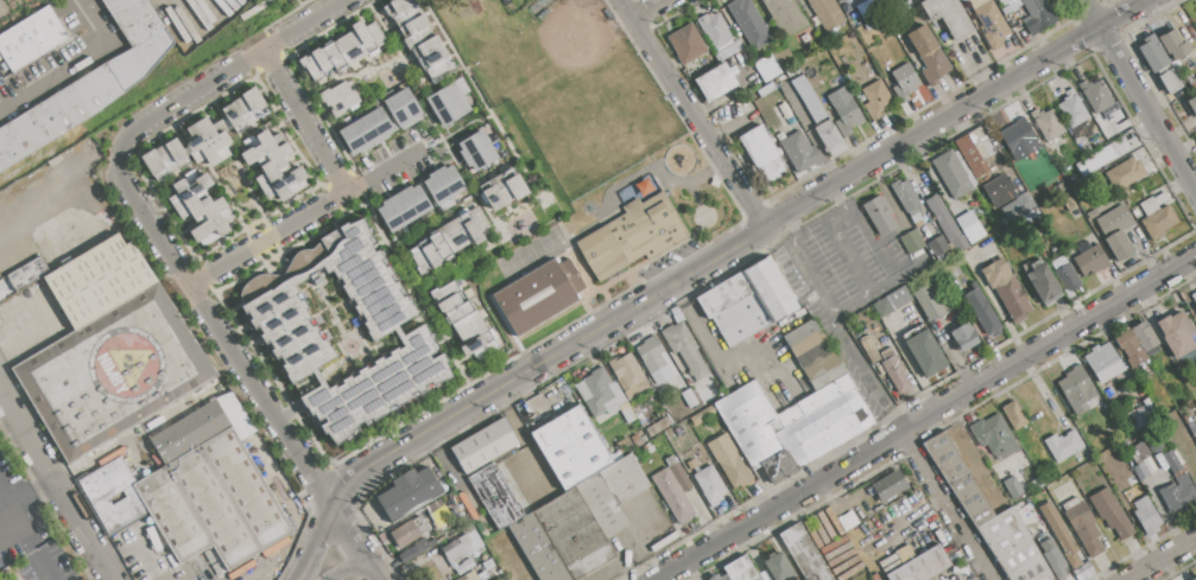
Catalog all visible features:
building: (840, 0)
building: (1013, 0)
building: (398, 7)
road: (644, 7)
building: (827, 13)
building: (785, 15)
building: (406, 17)
building: (948, 17)
building: (1037, 17)
building: (749, 23)
building: (991, 25)
building: (412, 27)
building: (715, 30)
building: (375, 34)
building: (30, 38)
building: (365, 38)
building: (417, 38)
road: (1108, 38)
building: (685, 43)
building: (1172, 44)
building: (349, 47)
building: (430, 52)
building: (1152, 53)
building: (928, 56)
building: (334, 57)
building: (781, 57)
building: (322, 60)
building: (310, 66)
road: (74, 68)
road: (403, 69)
building: (439, 70)
road: (222, 71)
building: (715, 82)
building: (904, 82)
building: (1170, 82)
building: (90, 84)
park: (576, 85)
building: (805, 94)
building: (1095, 95)
building: (338, 98)
building: (875, 100)
building: (254, 102)
building: (1192, 103)
building: (449, 104)
building: (404, 108)
building: (1072, 109)
building: (243, 110)
building: (844, 111)
road: (692, 114)
building: (232, 119)
road: (302, 121)
building: (1046, 123)
road: (730, 125)
road: (1160, 129)
building: (366, 132)
road: (455, 132)
building: (1017, 135)
building: (828, 138)
building: (1195, 138)
building: (208, 142)
building: (798, 149)
building: (476, 151)
building: (975, 151)
building: (177, 153)
building: (762, 154)
railway: (43, 155)
building: (1103, 157)
building: (165, 159)
park: (580, 159)
building: (152, 165)
building: (272, 165)
road: (382, 172)
building: (954, 173)
building: (1126, 173)
building: (443, 184)
building: (514, 184)
road: (1194, 185)
building: (501, 189)
building: (999, 190)
building: (491, 196)
building: (905, 196)
building: (1069, 204)
building: (1017, 206)
building: (200, 208)
building: (403, 208)
road: (514, 212)
building: (879, 213)
building: (1091, 215)
building: (1158, 216)
building: (477, 217)
building: (968, 221)
building: (469, 225)
building: (947, 225)
building: (1115, 231)
building: (454, 235)
building: (631, 235)
road: (264, 240)
road: (746, 240)
building: (911, 242)
building: (938, 246)
building: (439, 247)
building: (429, 253)
road: (843, 254)
road: (884, 259)
building: (419, 260)
building: (1090, 260)
road: (805, 267)
building: (29, 273)
building: (1068, 278)
building: (100, 280)
building: (1043, 282)
building: (1005, 289)
building: (443, 292)
building: (1194, 295)
building: (540, 297)
building: (748, 301)
building: (929, 301)
building: (450, 302)
road: (993, 304)
building: (882, 307)
building: (460, 312)
building: (981, 312)
road: (207, 319)
building: (469, 327)
building: (290, 332)
building: (1176, 333)
building: (963, 337)
building: (1145, 338)
road: (448, 343)
building: (477, 343)
building: (808, 344)
building: (1129, 346)
building: (485, 351)
building: (684, 351)
building: (924, 352)
building: (656, 361)
road: (721, 362)
road: (338, 363)
building: (1103, 363)
building: (112, 370)
building: (894, 370)
building: (823, 371)
road: (867, 374)
building: (628, 376)
building: (1076, 389)
building: (600, 394)
building: (690, 400)
building: (1139, 415)
building: (1014, 416)
road: (925, 419)
building: (793, 425)
building: (202, 427)
building: (656, 427)
building: (994, 438)
building: (483, 445)
road: (525, 445)
building: (1063, 445)
building: (572, 448)
building: (729, 461)
building: (1171, 461)
building: (675, 467)
building: (624, 478)
building: (957, 478)
road: (53, 485)
building: (710, 485)
building: (890, 485)
road: (42, 486)
building: (1012, 487)
building: (1176, 492)
building: (112, 495)
building: (407, 495)
road: (335, 496)
building: (495, 497)
building: (672, 497)
road: (21, 499)
building: (214, 502)
road: (7, 504)
building: (601, 504)
road: (328, 505)
road: (948, 506)
building: (1112, 515)
building: (1145, 516)
building: (847, 520)
road: (7, 521)
building: (1033, 521)
road: (323, 522)
building: (1083, 527)
building: (417, 533)
building: (572, 533)
building: (1061, 534)
road: (633, 542)
building: (1013, 547)
building: (538, 549)
road: (26, 550)
building: (412, 550)
building: (466, 550)
building: (803, 554)
road: (361, 555)
road: (308, 559)
building: (1052, 559)
road: (1164, 561)
building: (922, 566)
building: (778, 567)
road: (346, 568)
building: (740, 569)
building: (469, 576)
building: (717, 578)
building: (727, 579)
building: (1194, 579)

